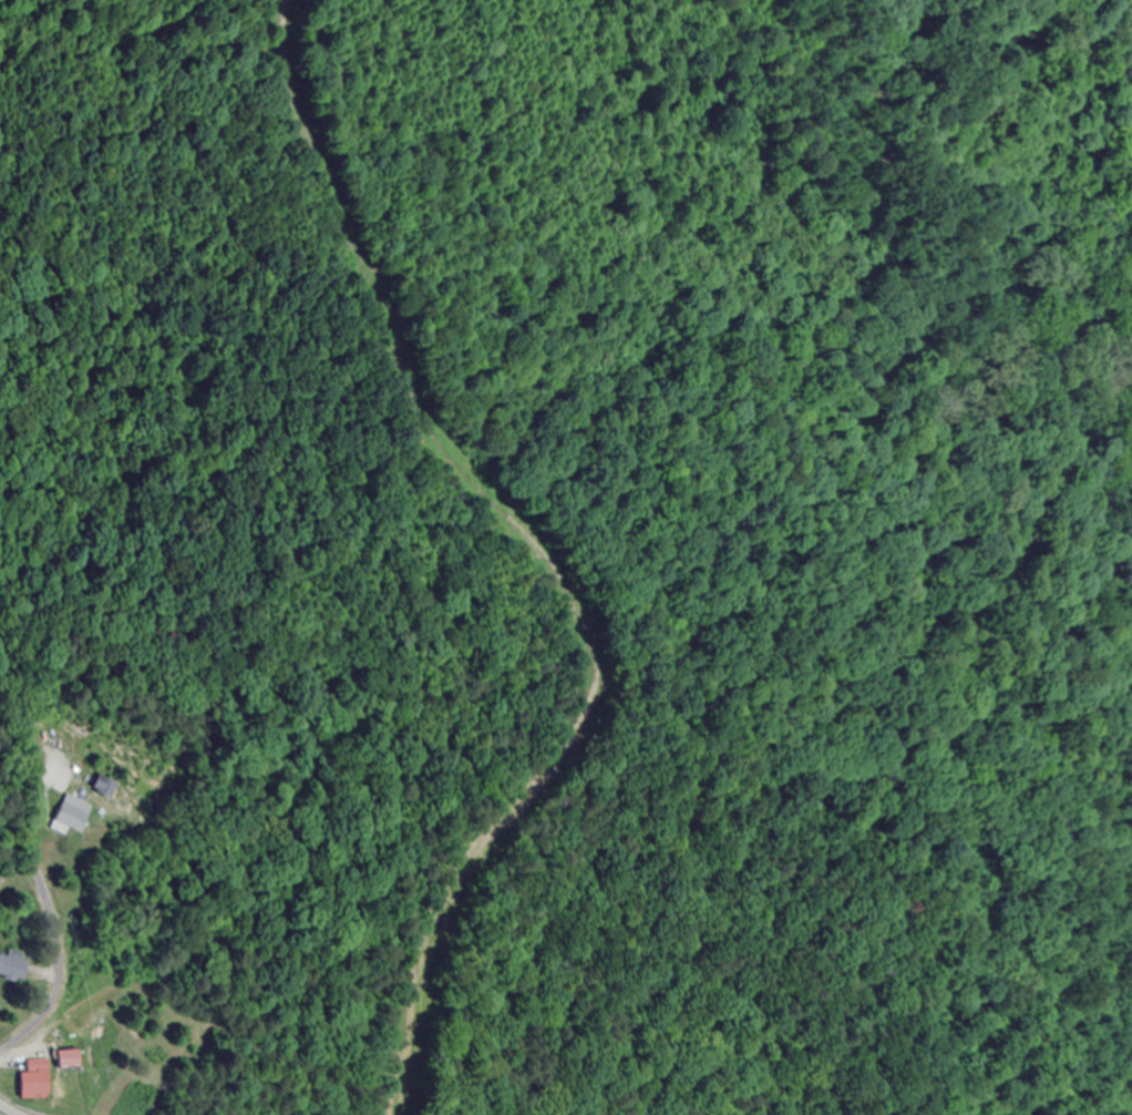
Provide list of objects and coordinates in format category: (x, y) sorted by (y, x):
building: (65, 819)
building: (8, 969)
building: (28, 1080)
road: (14, 1107)

